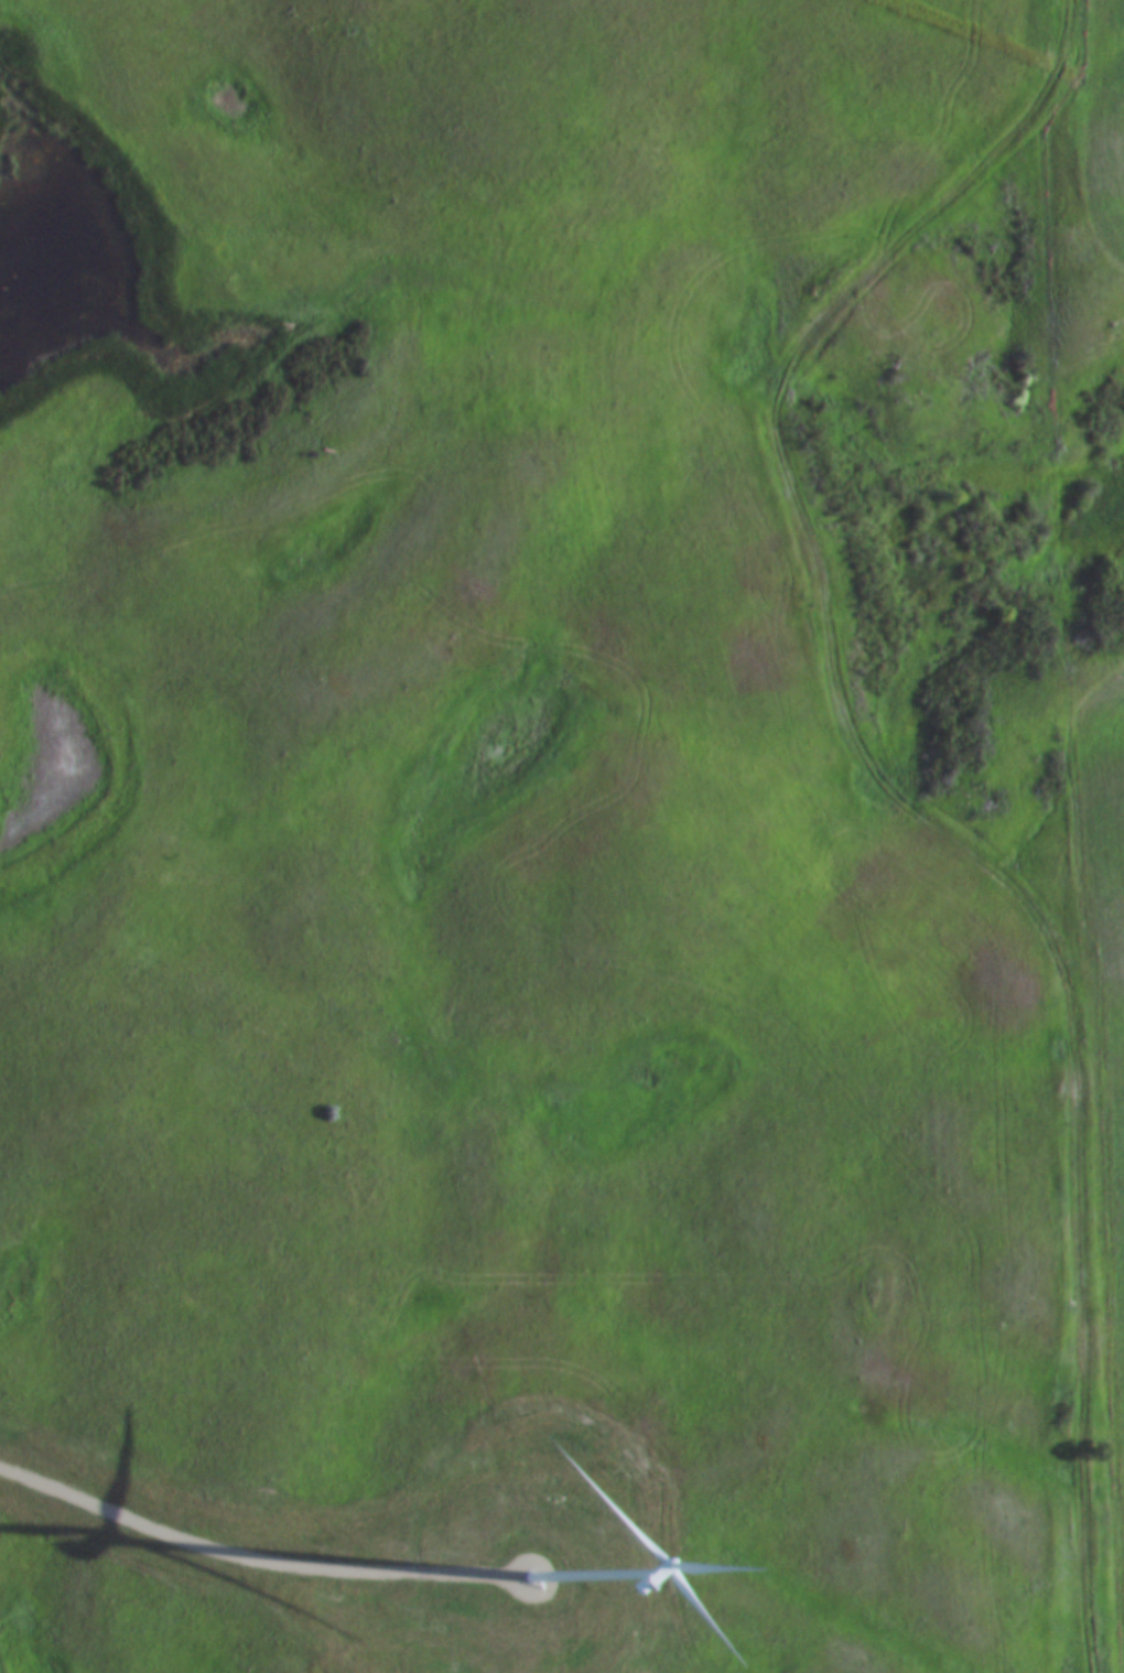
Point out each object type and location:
road: (904, 797)
wind turbine: (522, 1535)
road: (228, 1556)

